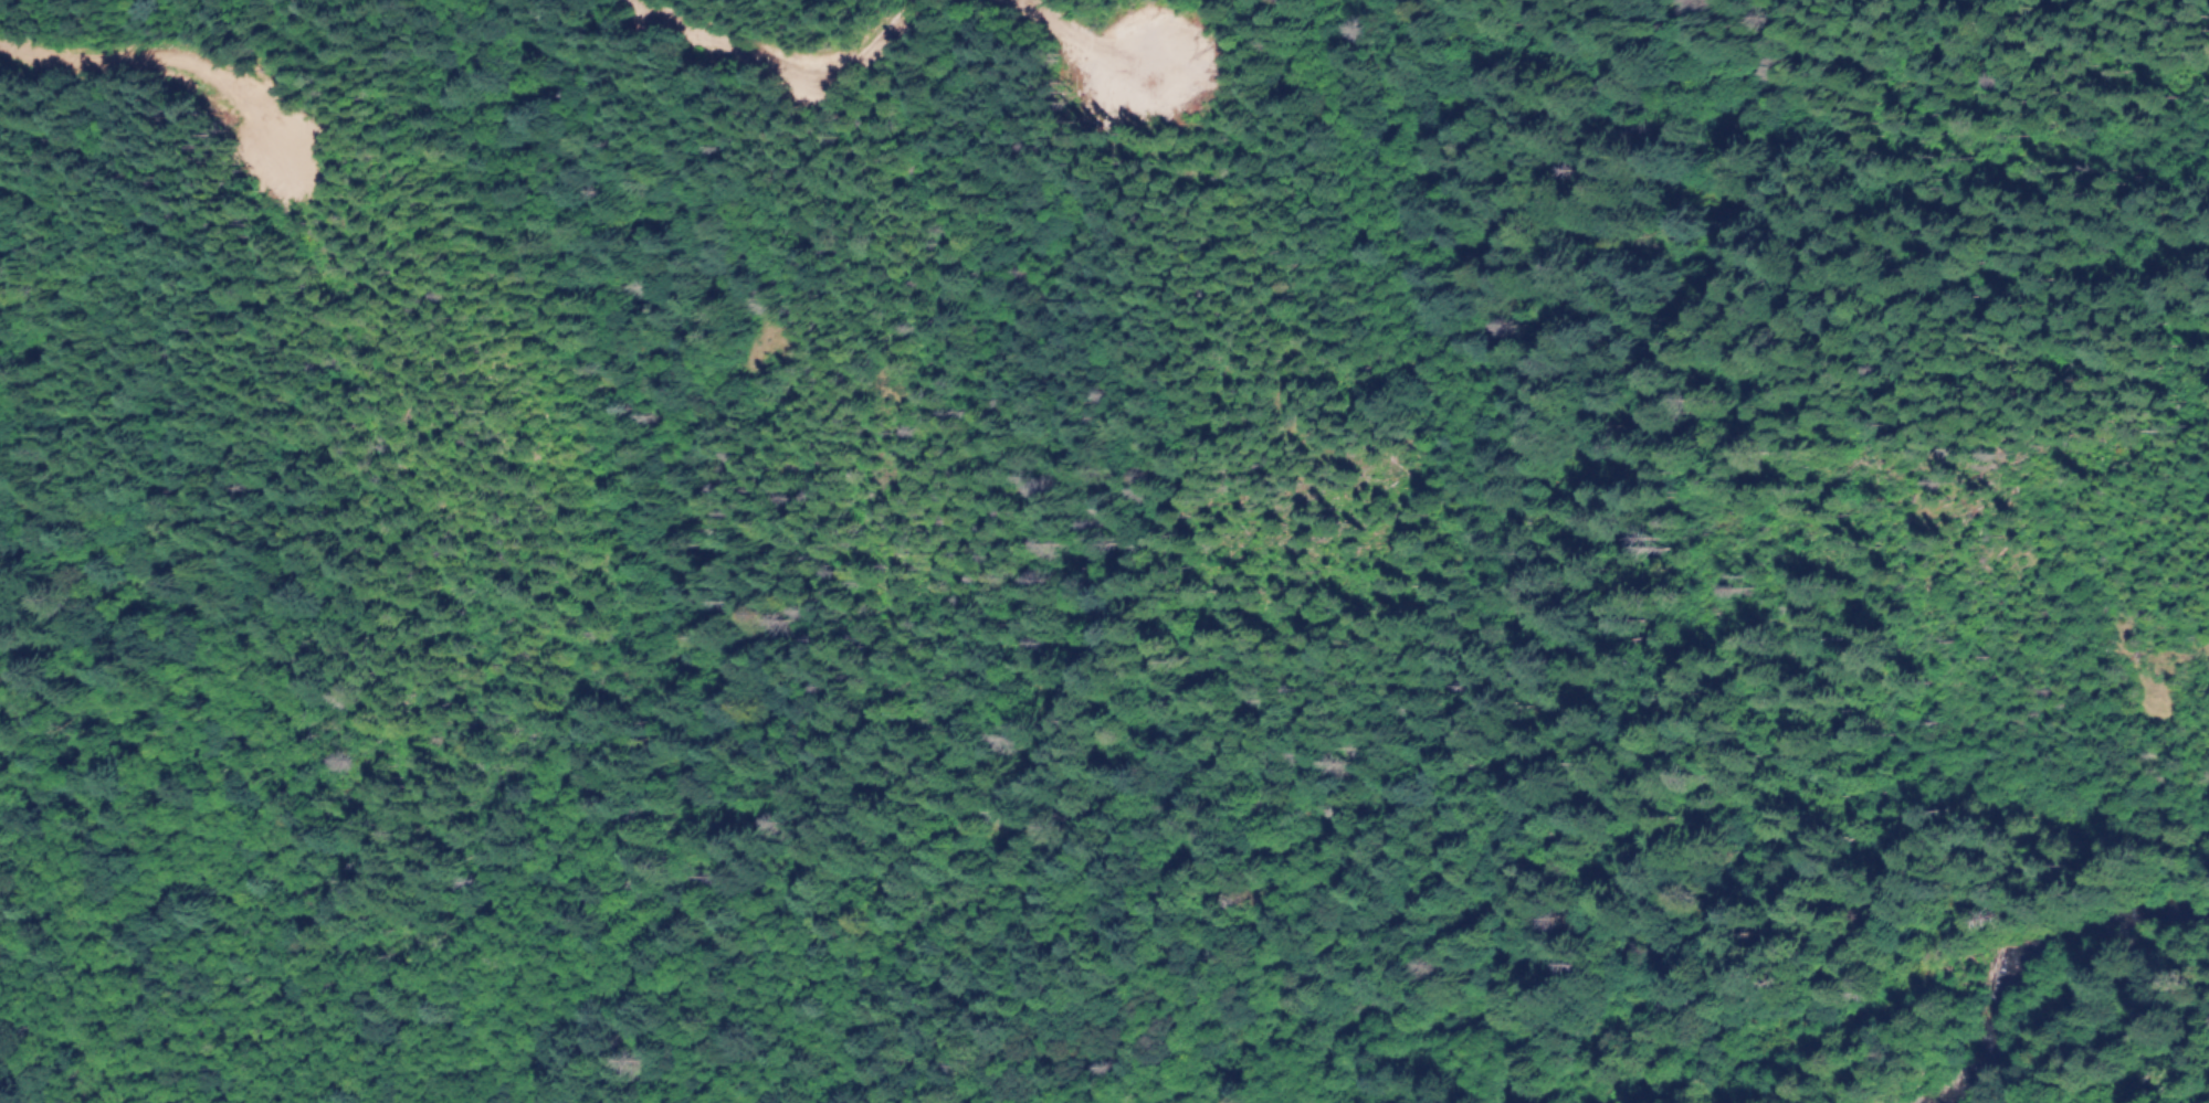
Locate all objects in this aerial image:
road: (1127, 17)
road: (1203, 18)
road: (781, 56)
road: (165, 59)
road: (2041, 105)
road: (1822, 135)

